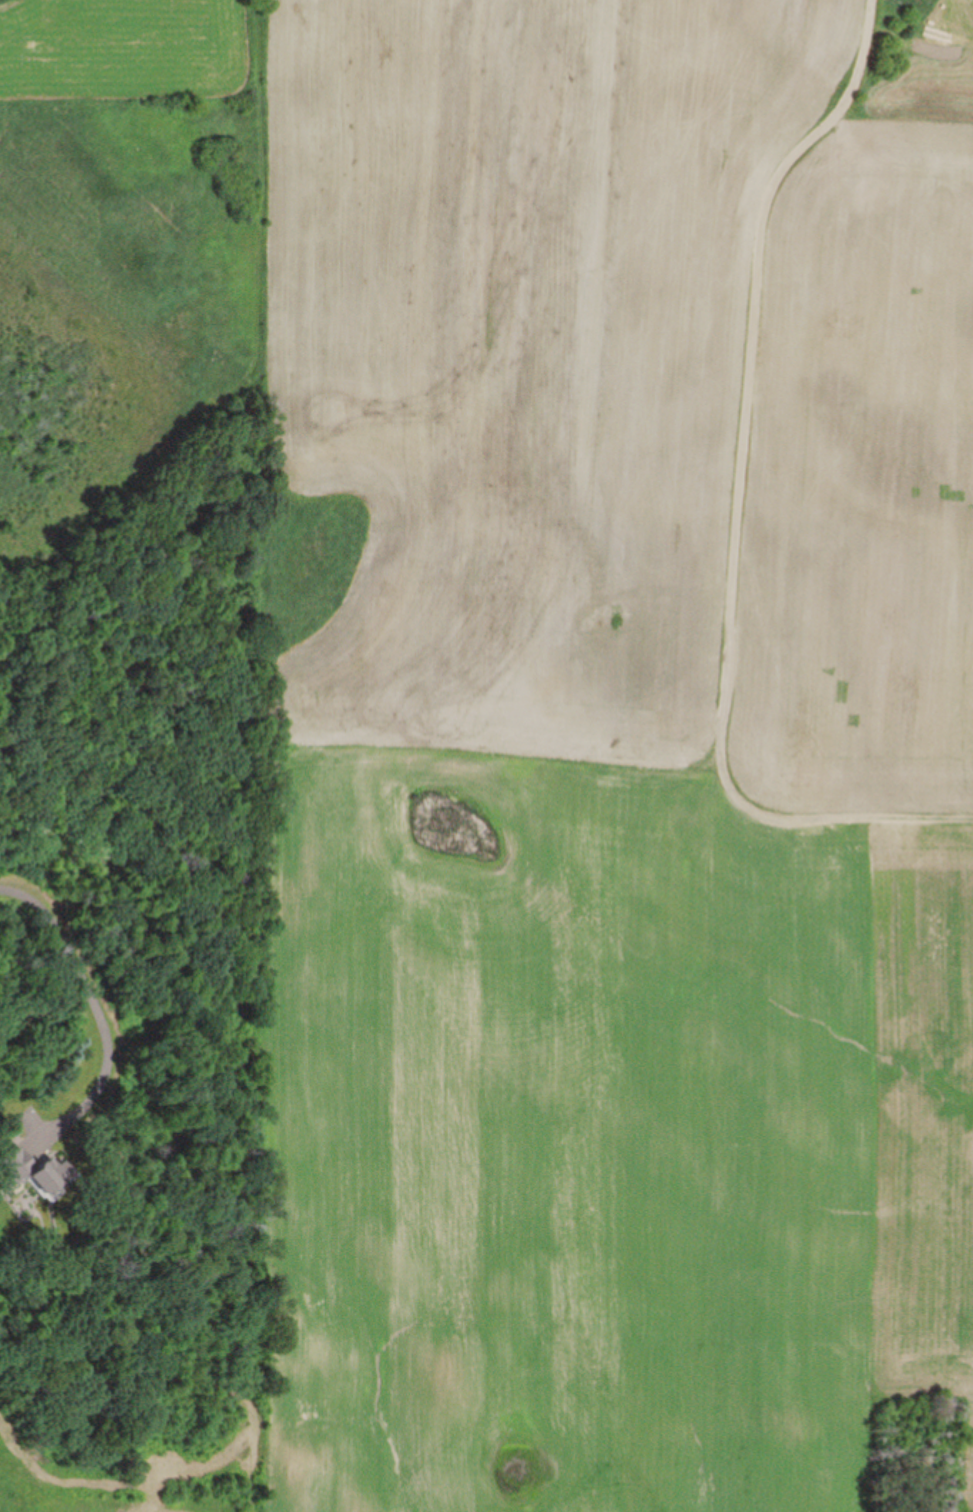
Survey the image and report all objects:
road: (92, 990)
park: (121, 1159)
building: (38, 1171)

